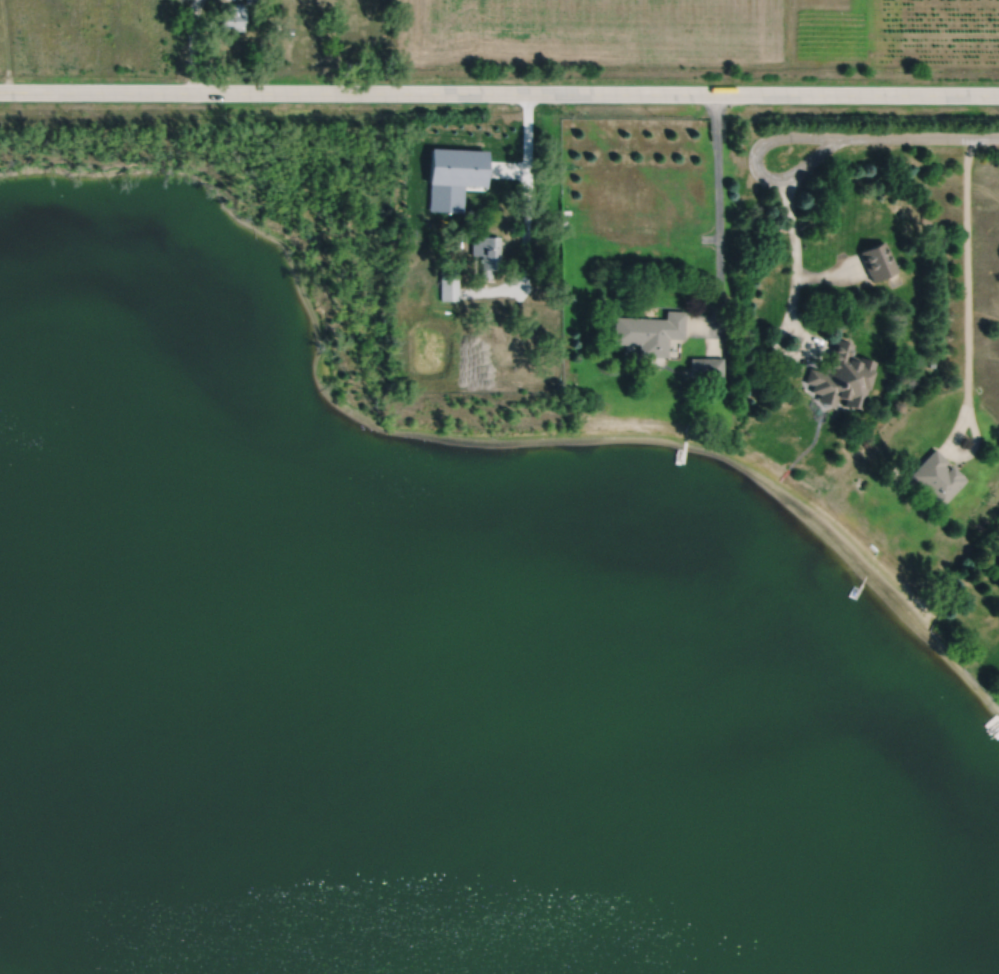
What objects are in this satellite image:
building: (250, 1)
building: (233, 16)
road: (192, 44)
road: (499, 91)
road: (918, 136)
road: (756, 164)
road: (717, 210)
road: (528, 213)
road: (795, 250)
building: (486, 251)
building: (876, 258)
building: (448, 284)
building: (649, 330)
road: (966, 330)
road: (802, 349)
building: (705, 364)
building: (841, 374)
building: (936, 475)

